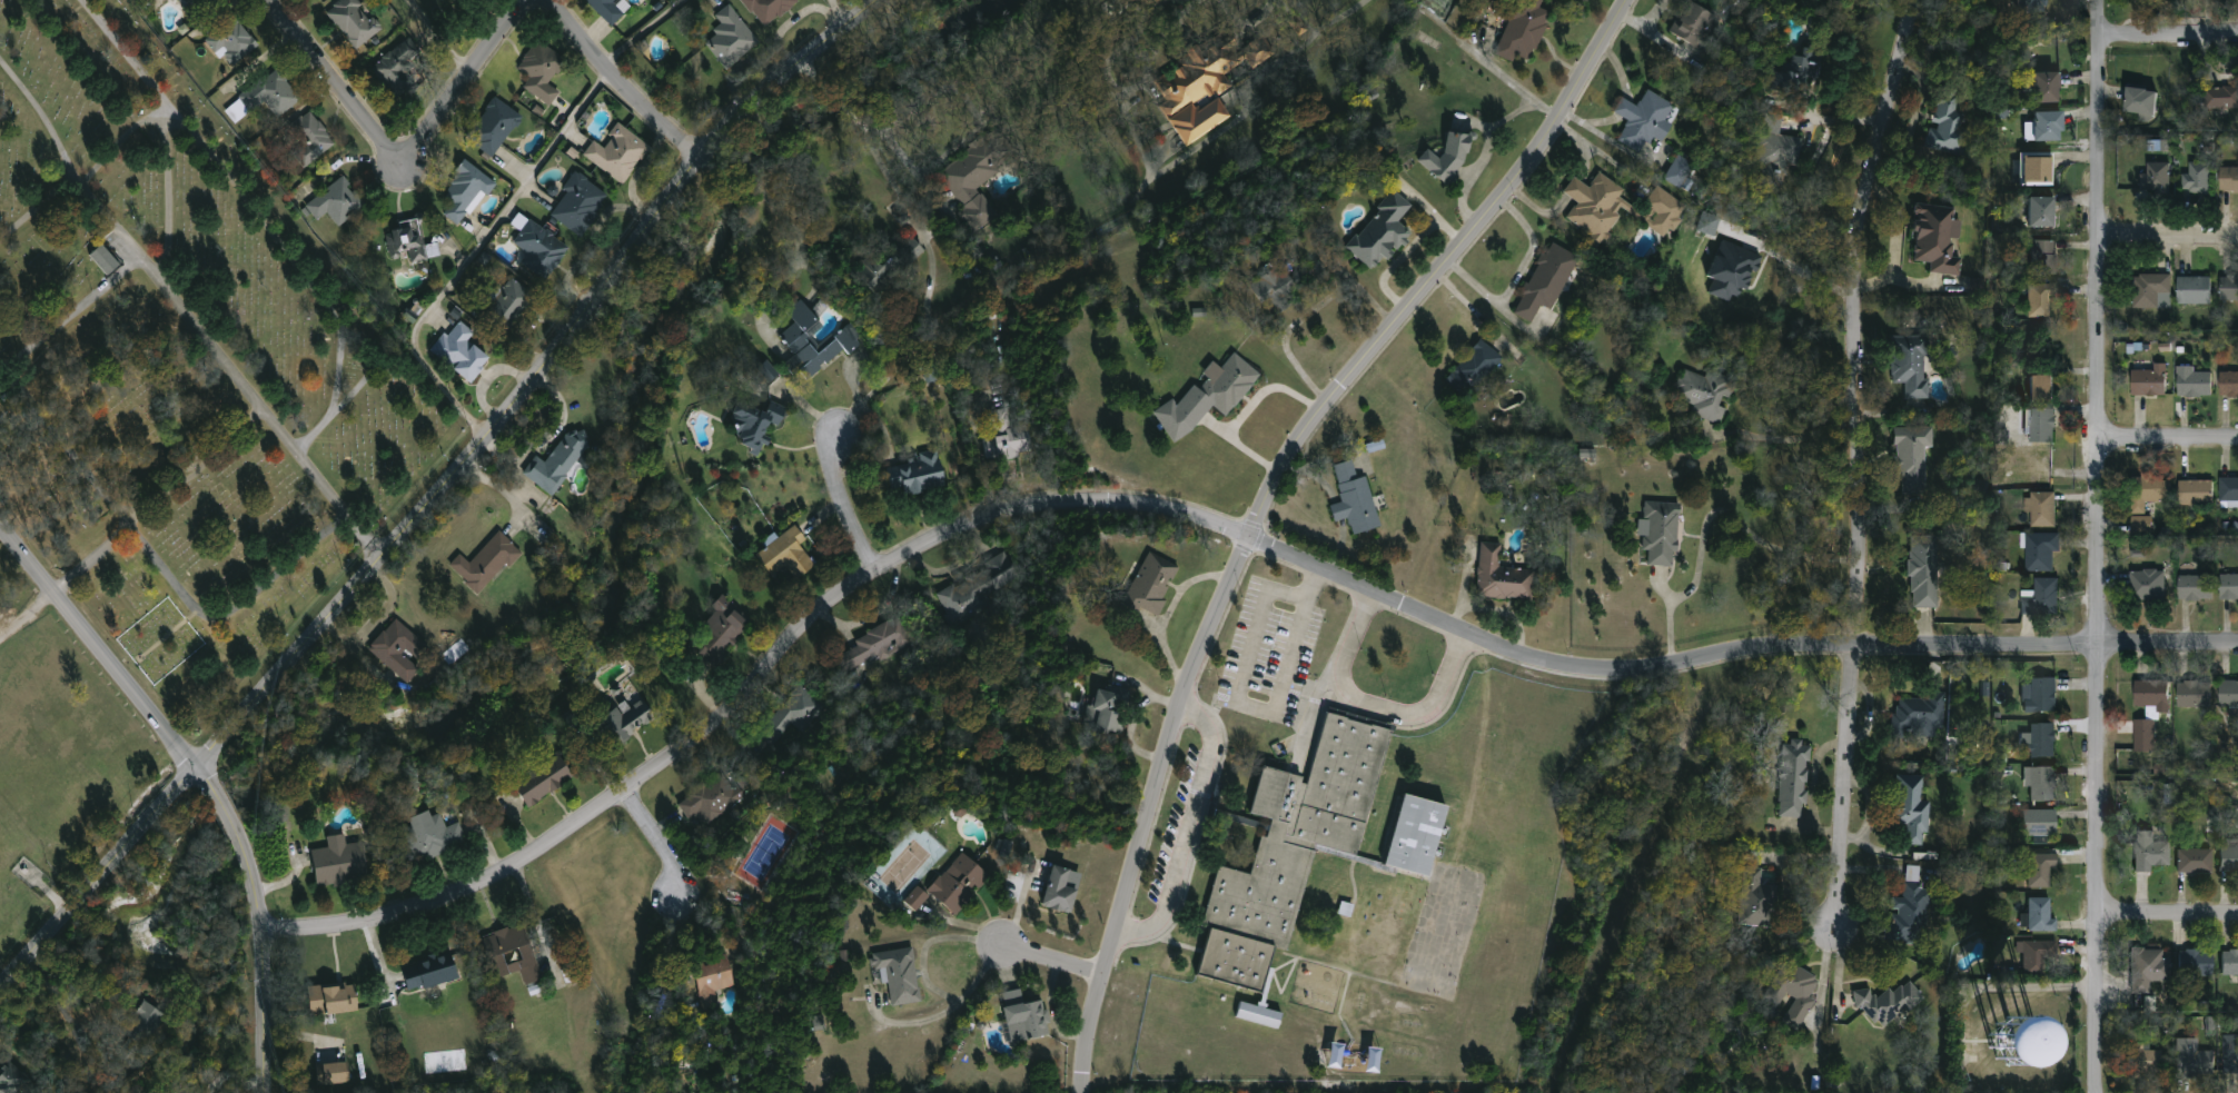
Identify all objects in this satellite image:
building: (448, 0)
building: (2030, 6)
building: (198, 8)
building: (607, 9)
building: (771, 9)
building: (356, 21)
road: (1246, 24)
building: (1695, 29)
road: (645, 30)
building: (1519, 30)
road: (1314, 33)
building: (733, 36)
road: (2168, 36)
road: (443, 37)
building: (234, 43)
road: (1489, 60)
building: (399, 70)
building: (1791, 70)
building: (543, 72)
road: (624, 78)
road: (329, 81)
road: (468, 82)
building: (1208, 83)
building: (2042, 87)
building: (266, 98)
building: (2220, 100)
building: (2138, 105)
road: (1241, 117)
building: (1642, 121)
building: (1945, 122)
road: (166, 127)
building: (495, 127)
building: (2042, 127)
building: (311, 139)
building: (1775, 151)
building: (620, 153)
building: (1445, 157)
road: (712, 162)
building: (2036, 169)
road: (733, 171)
building: (1678, 171)
building: (978, 178)
building: (2196, 179)
building: (2153, 180)
building: (2228, 181)
road: (900, 188)
building: (466, 191)
building: (338, 202)
building: (580, 205)
road: (38, 206)
building: (1594, 206)
road: (1432, 208)
building: (1658, 211)
building: (2039, 212)
road: (791, 222)
building: (1706, 223)
road: (267, 226)
building: (1383, 233)
road: (2169, 237)
building: (1933, 239)
building: (413, 244)
road: (1082, 246)
building: (542, 249)
road: (474, 250)
road: (1805, 257)
building: (2041, 257)
building: (107, 260)
road: (1394, 260)
building: (890, 262)
building: (1731, 270)
building: (1317, 272)
road: (1355, 277)
building: (1544, 281)
building: (1975, 285)
building: (1279, 288)
building: (2229, 288)
building: (2191, 291)
building: (2150, 292)
building: (2038, 300)
building: (508, 307)
road: (188, 309)
road: (73, 311)
road: (1287, 332)
building: (795, 338)
building: (462, 351)
park: (184, 358)
building: (1473, 368)
building: (768, 370)
building: (930, 370)
building: (1908, 371)
road: (533, 381)
building: (2148, 382)
building: (2192, 386)
building: (2228, 386)
building: (2039, 390)
building: (1703, 395)
building: (1210, 398)
building: (755, 425)
building: (2041, 427)
road: (1791, 438)
building: (1008, 440)
road: (2168, 443)
building: (1910, 459)
building: (562, 460)
road: (1855, 460)
building: (918, 474)
building: (2228, 490)
building: (2147, 491)
building: (2195, 494)
building: (1356, 499)
road: (1268, 501)
road: (842, 506)
building: (2042, 509)
road: (1709, 517)
road: (1200, 519)
building: (2141, 524)
building: (1658, 533)
road: (2099, 546)
building: (2040, 552)
building: (788, 555)
road: (91, 558)
road: (157, 559)
building: (487, 564)
building: (1923, 572)
building: (1502, 577)
building: (1150, 586)
building: (2146, 586)
building: (2228, 587)
building: (981, 588)
building: (2195, 589)
building: (2040, 598)
road: (380, 607)
road: (27, 613)
building: (724, 628)
building: (878, 646)
building: (400, 650)
building: (2228, 694)
building: (2192, 695)
building: (2040, 696)
building: (2151, 696)
road: (1254, 706)
road: (1375, 708)
building: (1109, 711)
road: (1133, 713)
building: (1915, 713)
building: (793, 717)
building: (617, 728)
building: (2143, 736)
building: (2042, 742)
road: (205, 779)
building: (545, 779)
building: (1791, 779)
building: (2042, 784)
building: (712, 798)
building: (1909, 808)
building: (2038, 823)
road: (1191, 829)
building: (438, 835)
building: (1410, 835)
road: (658, 838)
building: (1003, 846)
building: (1287, 851)
building: (2149, 853)
building: (2228, 858)
building: (2194, 861)
building: (343, 865)
building: (2039, 872)
road: (98, 874)
building: (959, 883)
building: (1062, 892)
building: (1756, 892)
building: (917, 898)
building: (1908, 908)
road: (2167, 915)
building: (2041, 916)
building: (514, 955)
building: (2039, 956)
road: (1052, 963)
building: (2195, 963)
building: (2229, 963)
building: (2146, 968)
building: (432, 972)
building: (900, 975)
road: (925, 975)
road: (1826, 976)
building: (714, 978)
building: (1791, 992)
road: (56, 998)
building: (335, 998)
building: (1887, 1003)
building: (1257, 1015)
building: (1027, 1017)
building: (142, 1024)
building: (2013, 1039)
water tower: (2013, 1039)
building: (2230, 1053)
building: (2191, 1061)
building: (2145, 1062)
building: (334, 1073)
building: (11, 1079)

